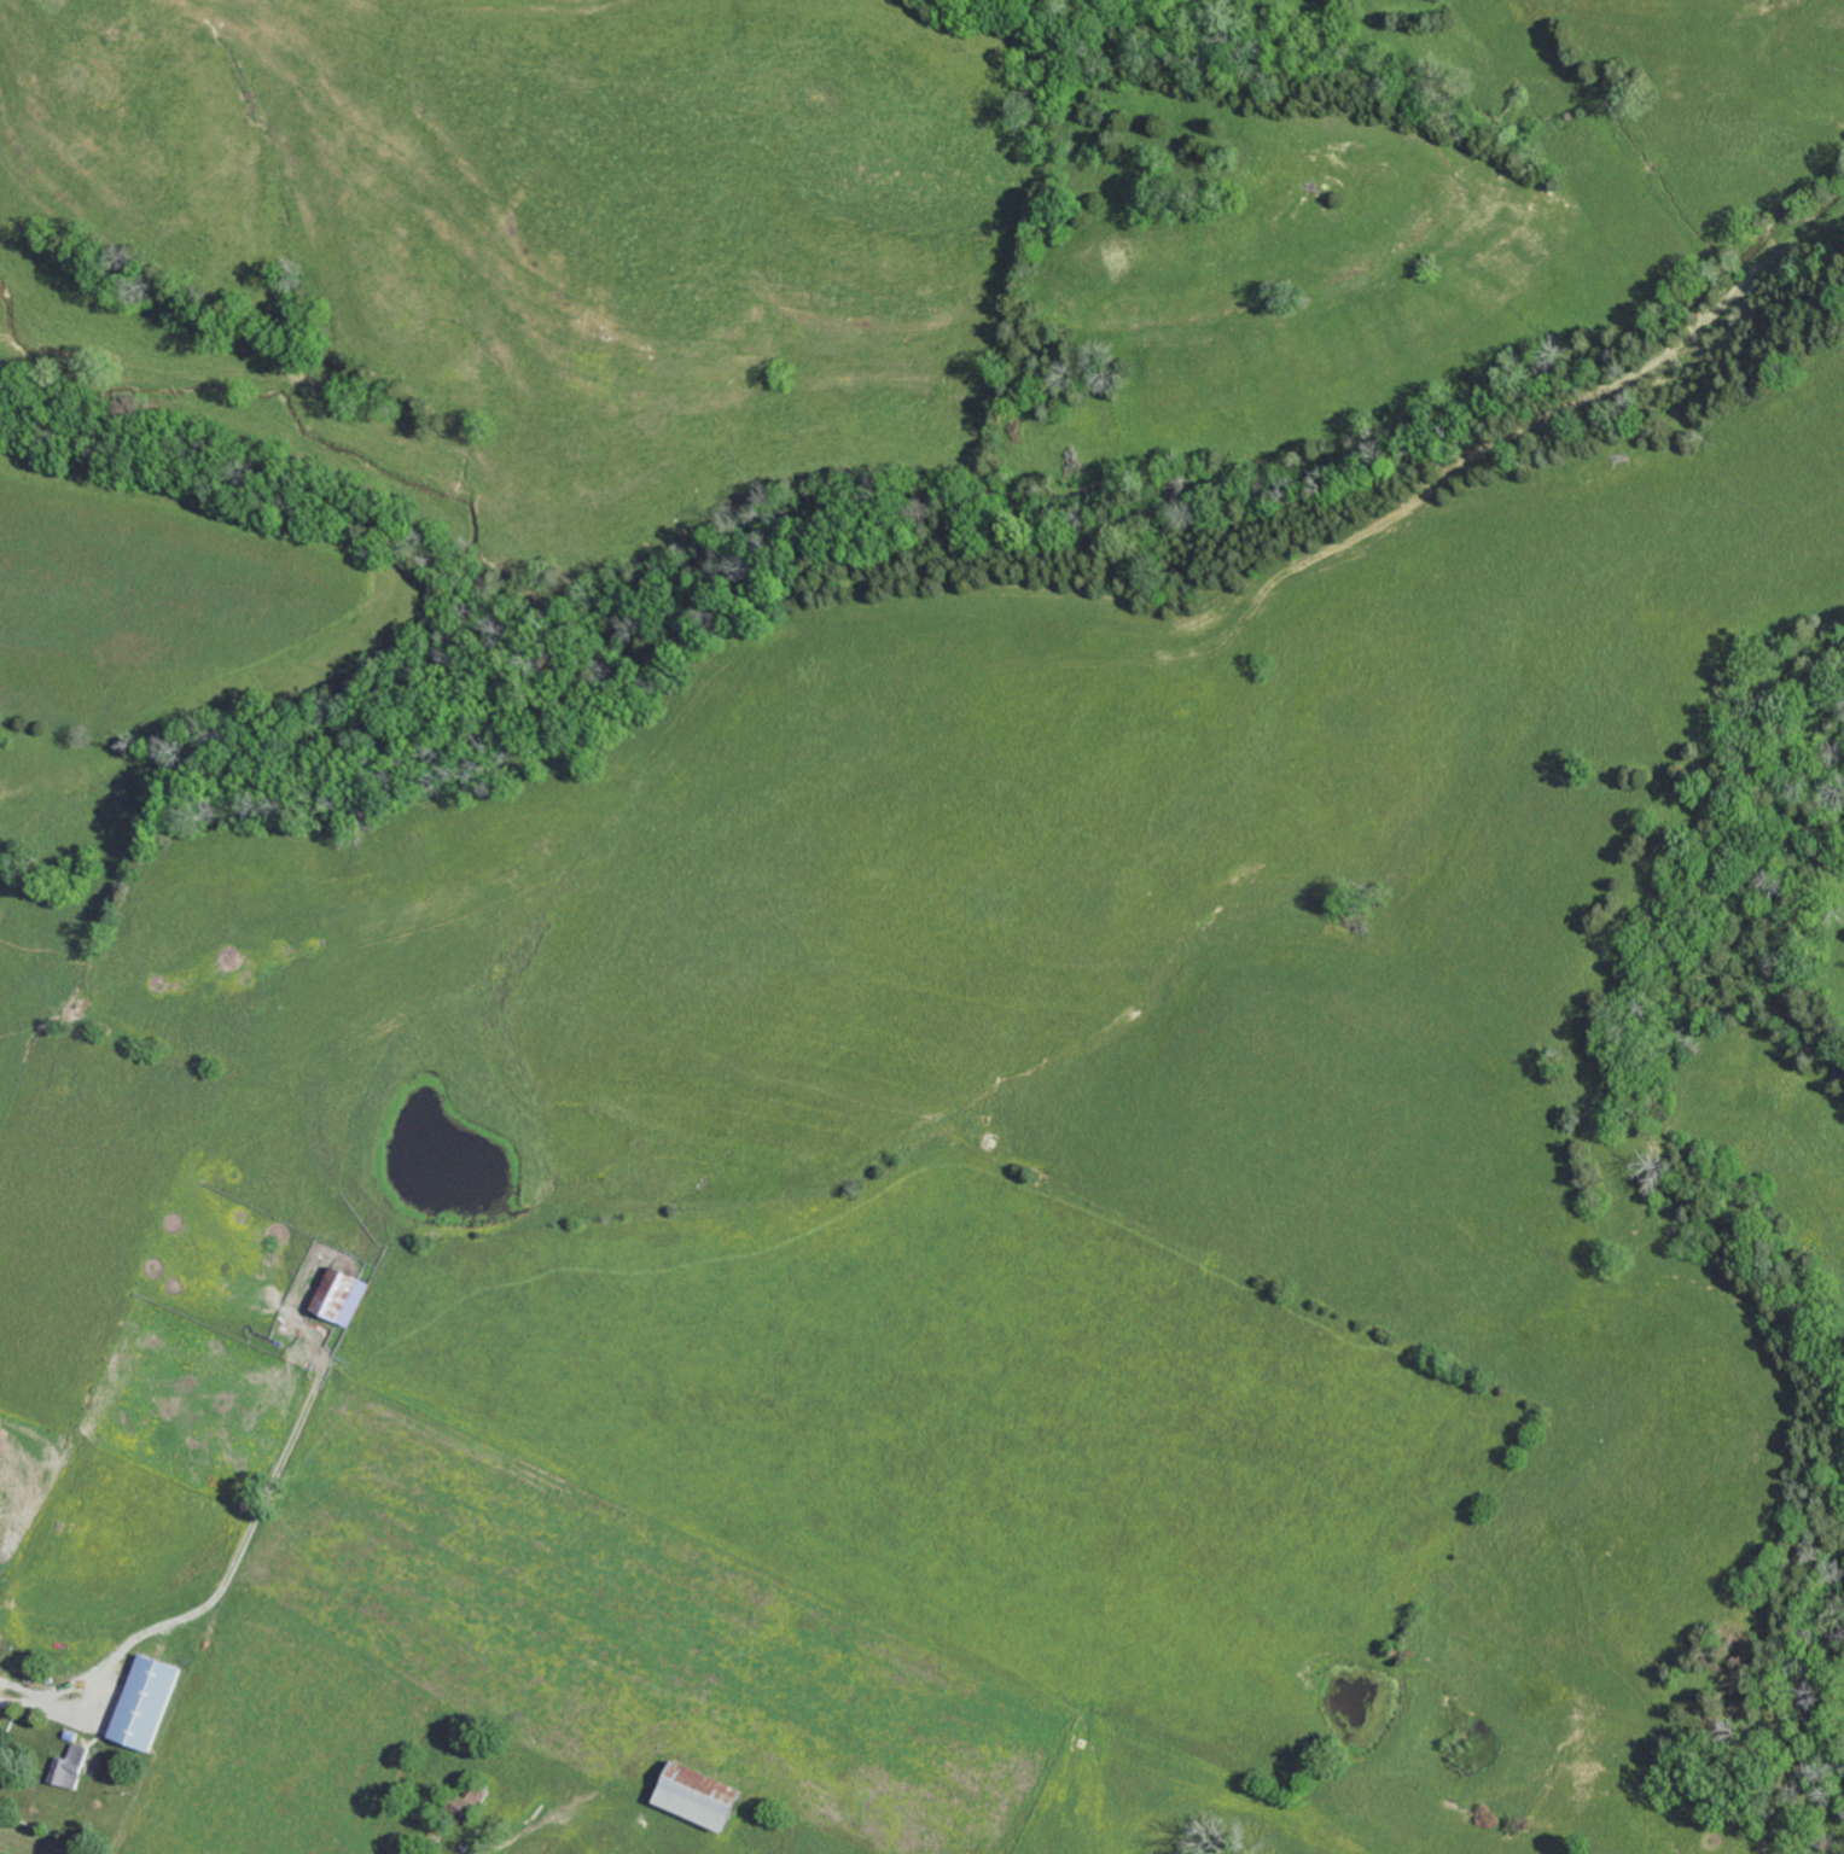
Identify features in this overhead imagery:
building: (343, 1296)
building: (1, 1608)
building: (149, 1704)
building: (72, 1768)
building: (704, 1797)
road: (456, 1825)

